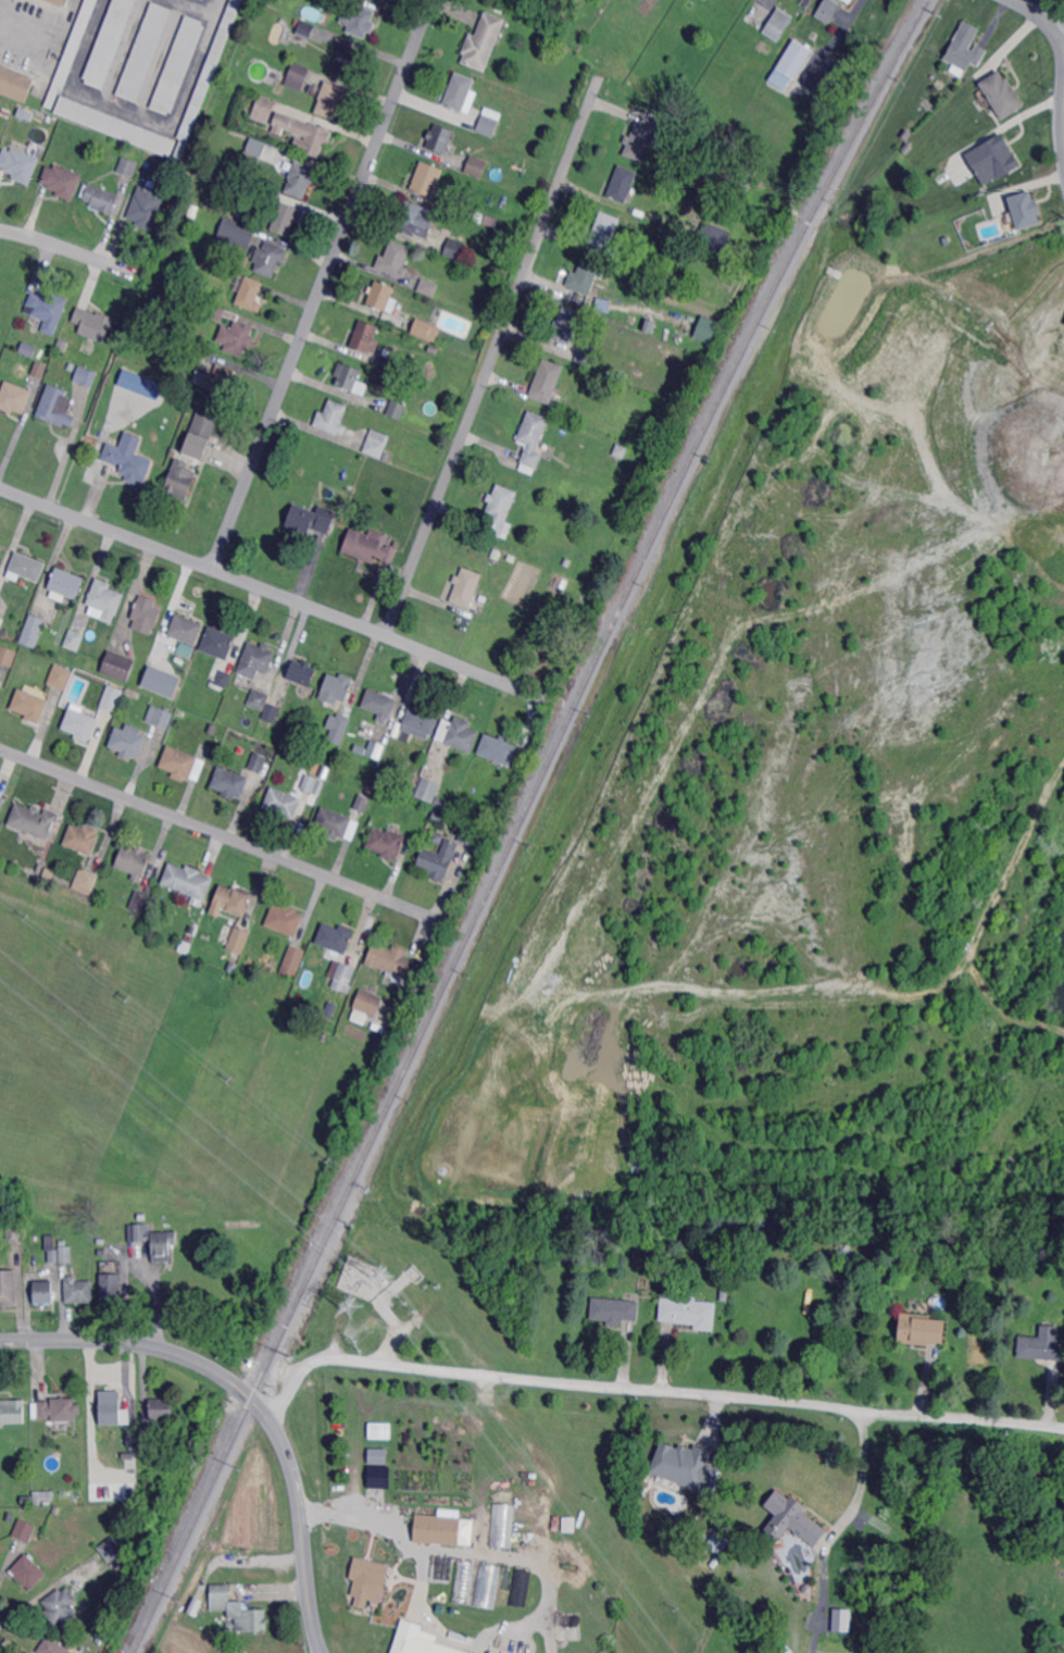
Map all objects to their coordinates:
building: (849, 0)
building: (59, 2)
road: (761, 7)
building: (827, 9)
road: (1037, 14)
building: (359, 18)
building: (777, 24)
road: (1059, 29)
building: (302, 32)
building: (110, 41)
building: (483, 41)
road: (1059, 42)
road: (18, 43)
building: (965, 48)
building: (72, 50)
building: (145, 51)
building: (346, 60)
building: (793, 60)
building: (178, 64)
building: (208, 75)
building: (298, 75)
building: (838, 83)
building: (16, 84)
building: (459, 90)
building: (1001, 96)
building: (330, 101)
building: (928, 104)
building: (264, 109)
road: (141, 111)
building: (23, 112)
building: (5, 113)
building: (450, 115)
building: (116, 125)
building: (483, 126)
building: (312, 136)
building: (439, 138)
building: (641, 138)
building: (903, 142)
building: (256, 146)
building: (991, 159)
building: (18, 165)
building: (127, 166)
building: (476, 166)
building: (300, 176)
building: (426, 178)
building: (62, 181)
building: (740, 183)
building: (623, 184)
building: (100, 197)
building: (918, 202)
building: (147, 207)
building: (1025, 210)
building: (774, 215)
building: (285, 219)
building: (416, 219)
building: (486, 219)
building: (605, 229)
building: (241, 233)
building: (715, 237)
road: (67, 248)
building: (455, 248)
building: (270, 258)
building: (395, 259)
building: (204, 264)
building: (650, 268)
building: (585, 276)
road: (322, 284)
building: (428, 285)
building: (644, 288)
building: (250, 294)
building: (383, 296)
building: (48, 309)
building: (215, 311)
building: (93, 323)
building: (566, 325)
building: (708, 328)
building: (425, 330)
building: (364, 336)
building: (237, 337)
building: (62, 345)
building: (28, 348)
building: (433, 349)
building: (199, 352)
building: (587, 355)
building: (389, 359)
road: (490, 362)
building: (100, 365)
building: (40, 370)
building: (86, 376)
building: (350, 378)
building: (220, 380)
building: (546, 382)
building: (139, 383)
building: (14, 398)
building: (55, 407)
building: (396, 410)
building: (330, 418)
building: (201, 433)
building: (531, 440)
building: (376, 443)
building: (622, 451)
building: (388, 456)
building: (129, 458)
building: (180, 480)
building: (500, 510)
building: (311, 519)
building: (370, 547)
building: (1, 548)
building: (564, 562)
building: (26, 567)
building: (65, 584)
building: (465, 587)
road: (275, 592)
building: (105, 599)
building: (146, 617)
building: (1, 622)
building: (186, 629)
building: (33, 630)
building: (74, 639)
building: (218, 643)
building: (184, 648)
building: (161, 651)
building: (8, 655)
building: (256, 659)
building: (155, 663)
building: (117, 667)
building: (302, 672)
building: (60, 676)
building: (159, 680)
building: (224, 680)
building: (337, 687)
building: (112, 697)
building: (258, 700)
building: (32, 703)
building: (379, 704)
building: (272, 711)
building: (181, 712)
building: (160, 716)
building: (421, 722)
building: (80, 724)
building: (337, 728)
building: (459, 734)
building: (128, 741)
building: (498, 748)
building: (360, 750)
building: (375, 750)
building: (258, 762)
building: (183, 763)
building: (229, 782)
building: (310, 783)
building: (429, 790)
building: (1, 801)
building: (441, 801)
building: (283, 803)
building: (362, 803)
building: (437, 816)
building: (33, 820)
railway: (521, 821)
building: (337, 824)
road: (223, 834)
building: (471, 834)
building: (438, 837)
building: (83, 838)
building: (387, 843)
building: (438, 859)
building: (133, 861)
building: (41, 867)
building: (49, 873)
building: (86, 880)
building: (188, 882)
building: (233, 899)
building: (140, 902)
building: (285, 919)
building: (188, 936)
building: (336, 937)
building: (239, 940)
building: (185, 947)
building: (293, 961)
building: (391, 961)
building: (341, 974)
building: (368, 1003)
building: (762, 1220)
building: (808, 1222)
building: (15, 1234)
building: (154, 1241)
building: (112, 1253)
building: (66, 1254)
building: (1061, 1254)
building: (53, 1256)
power tower: (383, 1273)
building: (8, 1287)
building: (110, 1289)
building: (79, 1290)
building: (45, 1292)
building: (725, 1294)
power tower: (353, 1304)
building: (613, 1312)
building: (689, 1312)
building: (919, 1330)
building: (1042, 1344)
road: (649, 1390)
road: (252, 1399)
building: (162, 1408)
building: (57, 1409)
building: (12, 1412)
building: (114, 1413)
building: (378, 1429)
building: (148, 1435)
building: (376, 1454)
building: (132, 1455)
building: (684, 1465)
road: (858, 1469)
building: (377, 1476)
building: (48, 1495)
building: (27, 1500)
building: (58, 1511)
building: (794, 1517)
building: (502, 1525)
building: (25, 1530)
building: (446, 1530)
building: (713, 1539)
building: (110, 1551)
road: (538, 1564)
building: (28, 1570)
building: (367, 1578)
building: (462, 1582)
building: (508, 1584)
building: (486, 1587)
building: (522, 1587)
building: (221, 1598)
building: (62, 1606)
building: (196, 1606)
building: (839, 1619)
building: (252, 1620)
building: (830, 1640)
building: (421, 1641)
building: (53, 1646)
building: (780, 1649)
building: (491, 1652)
building: (495, 1652)

